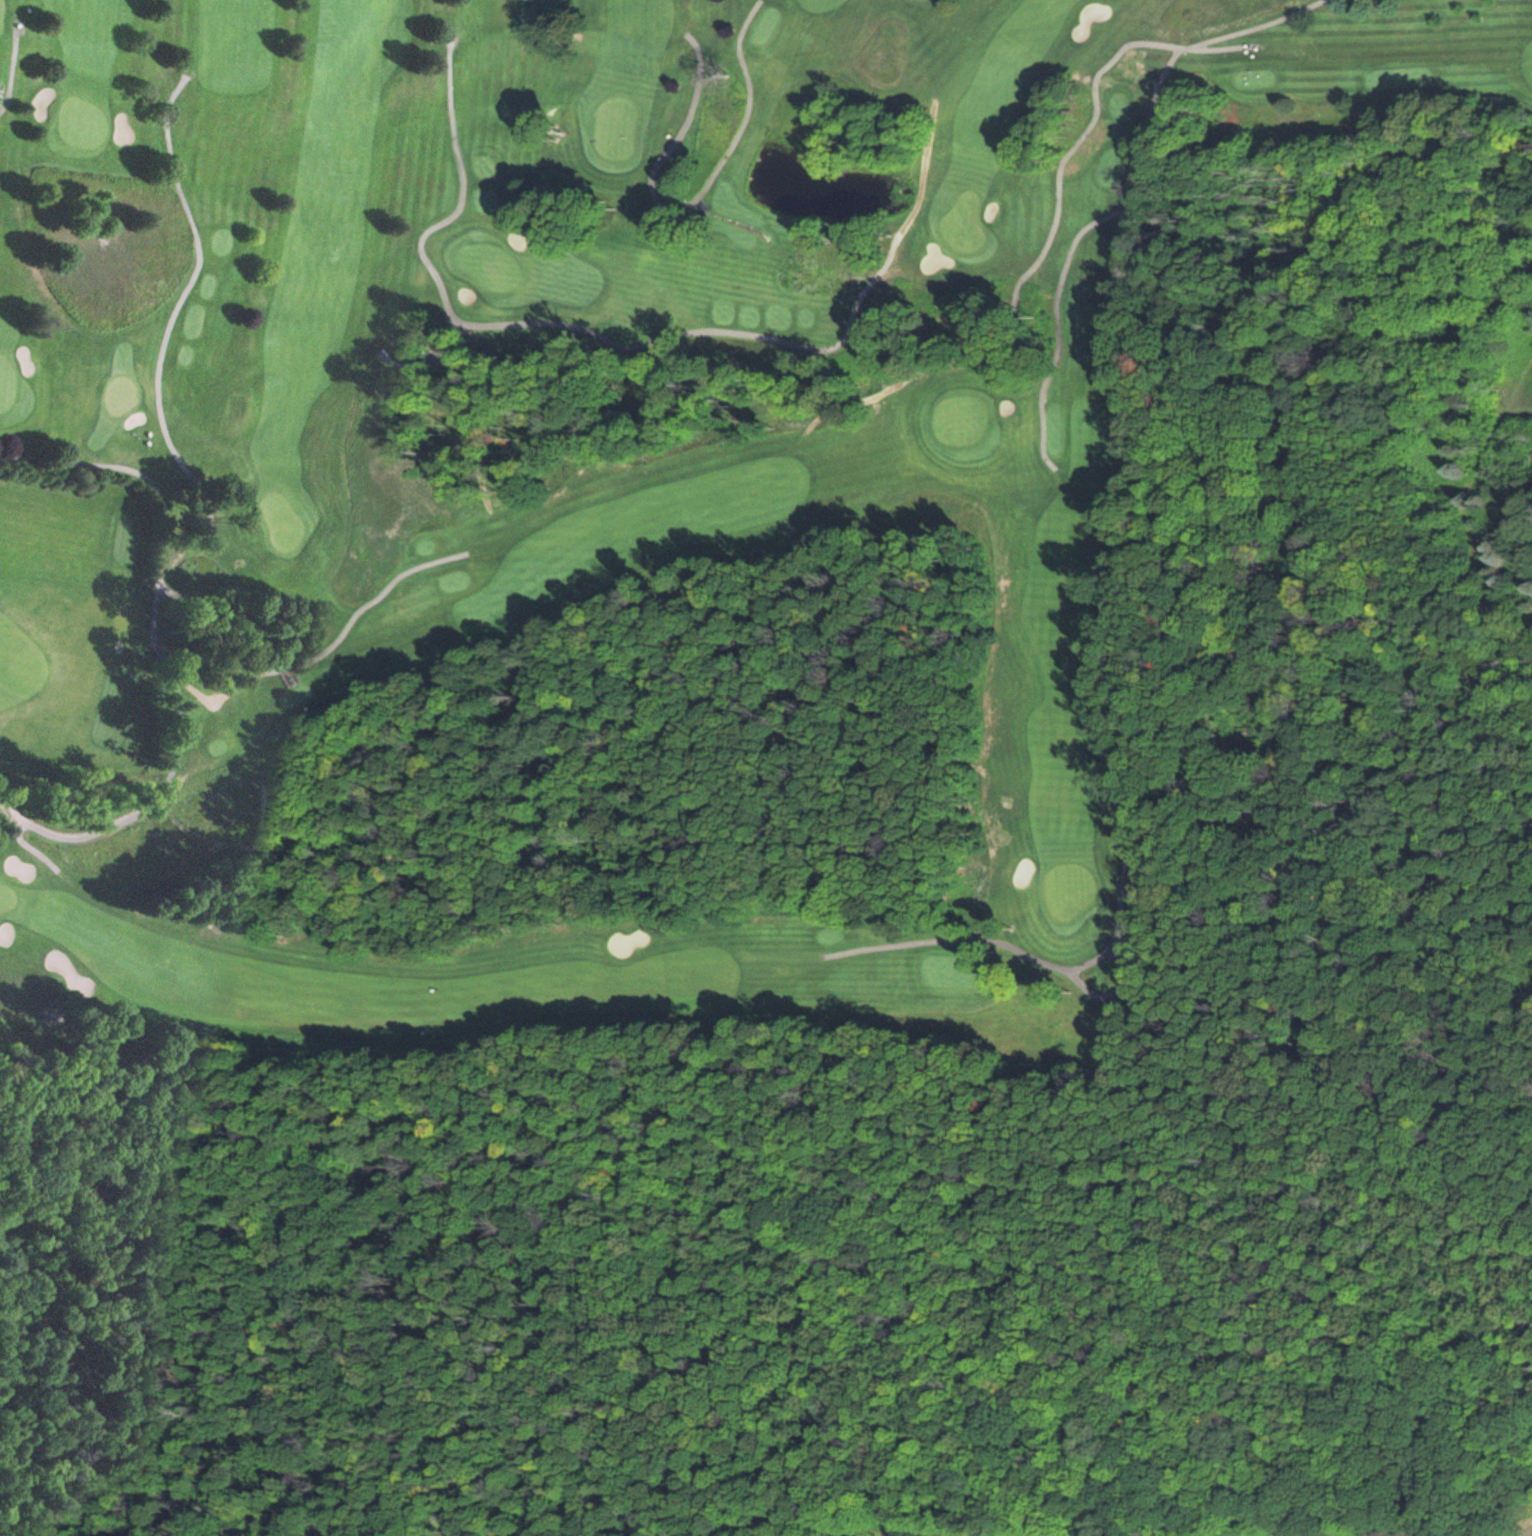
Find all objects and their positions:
road: (1271, 378)
park: (613, 513)
building: (127, 678)
building: (130, 732)
road: (1472, 782)
road: (1157, 824)
road: (901, 1145)
road: (1502, 1530)

